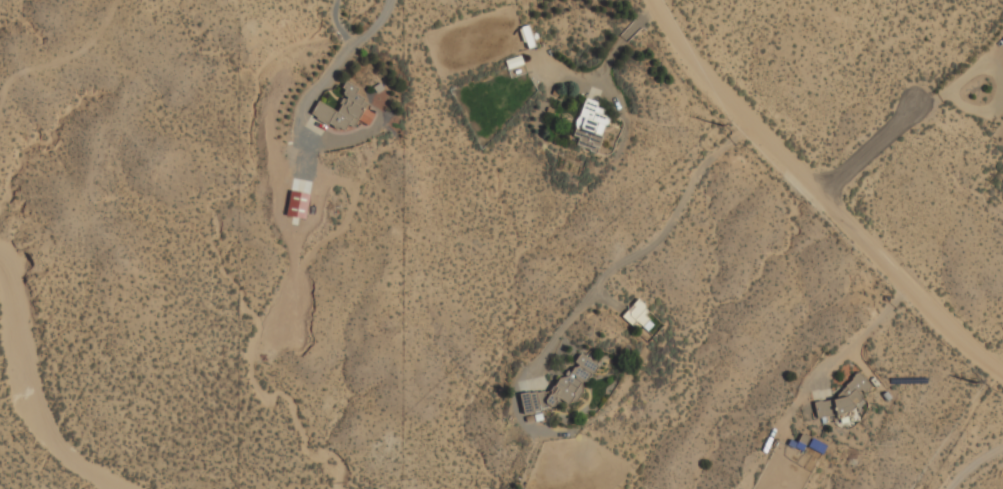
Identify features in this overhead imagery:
road: (337, 24)
building: (528, 38)
road: (342, 55)
building: (341, 111)
power tower: (718, 126)
building: (590, 127)
road: (875, 151)
building: (568, 165)
road: (823, 191)
building: (297, 206)
building: (637, 317)
building: (572, 380)
power tower: (973, 382)
building: (842, 400)
building: (529, 403)
road: (973, 462)

